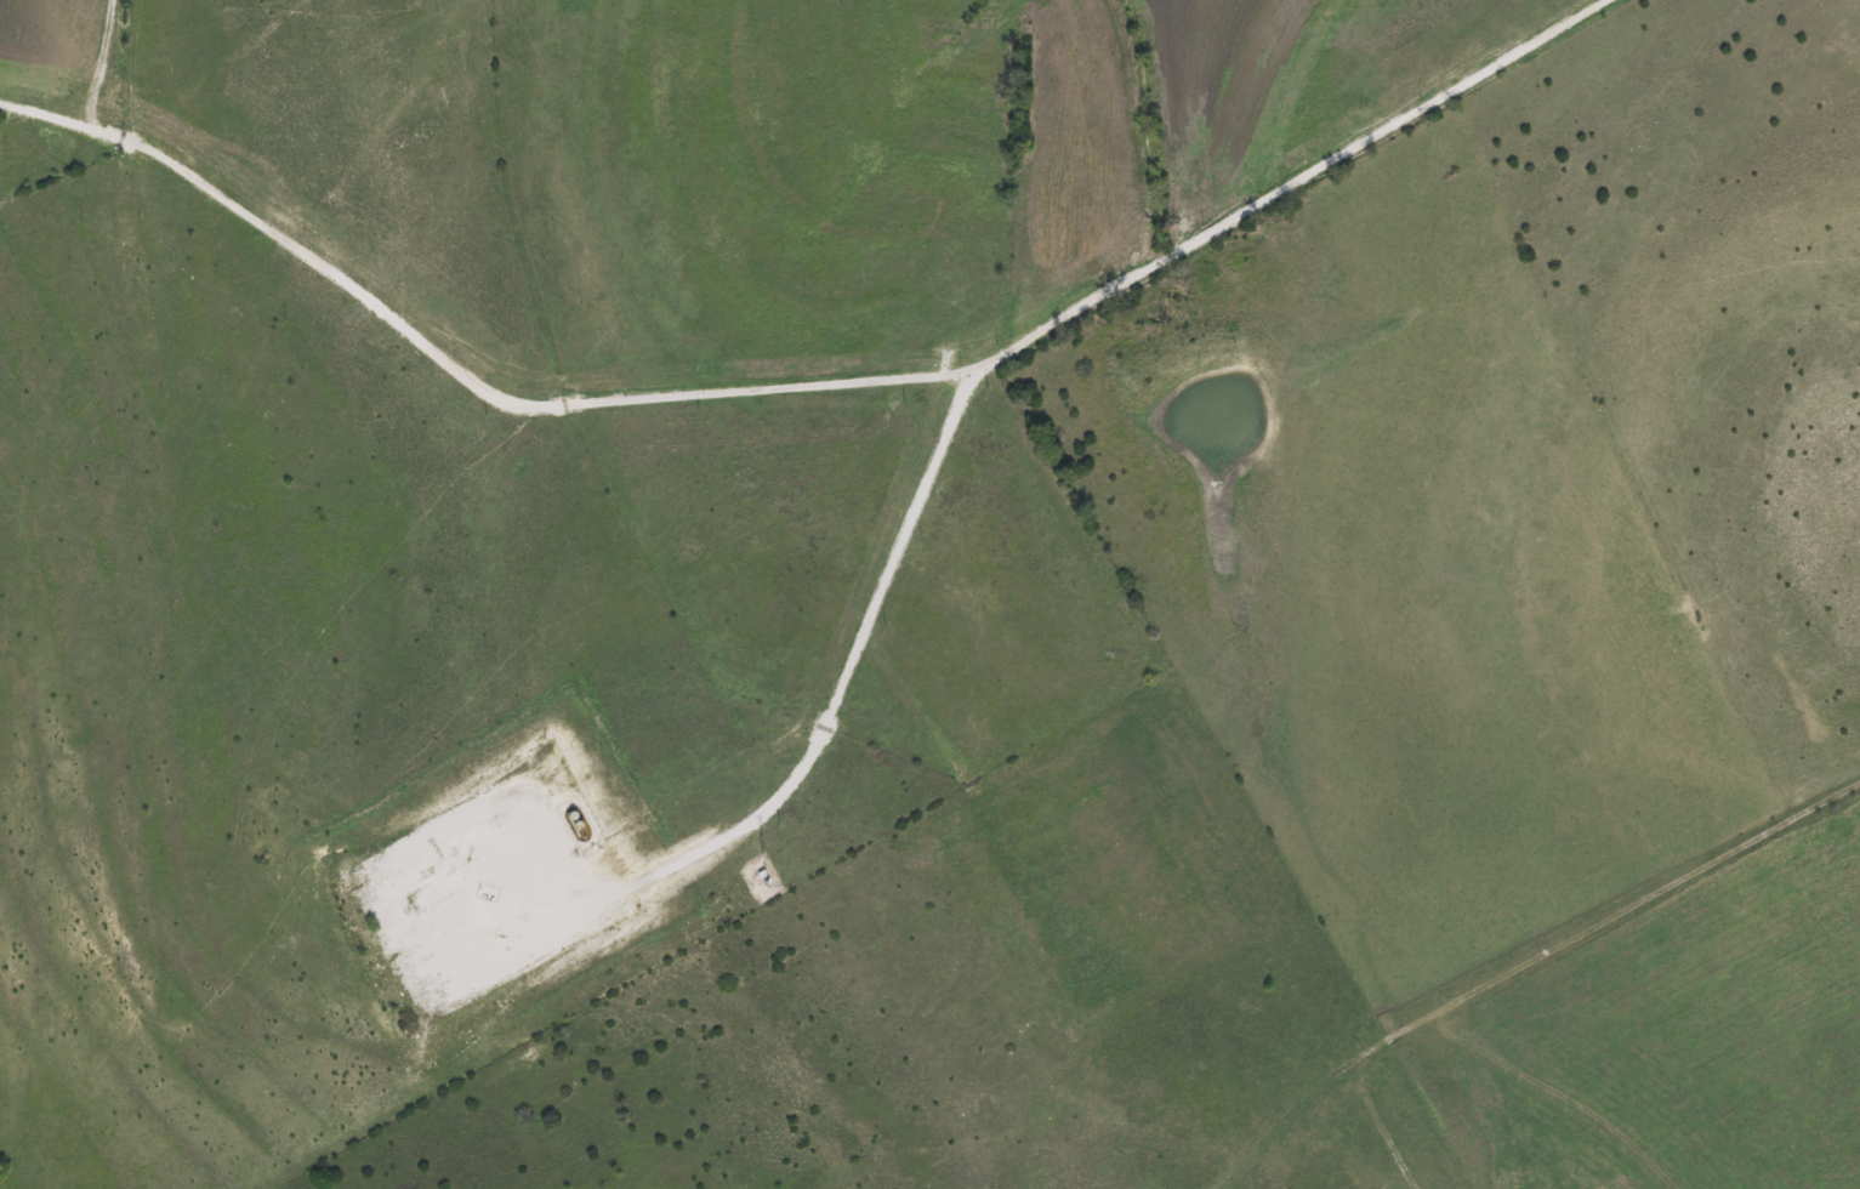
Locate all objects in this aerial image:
road: (989, 360)
road: (457, 374)

